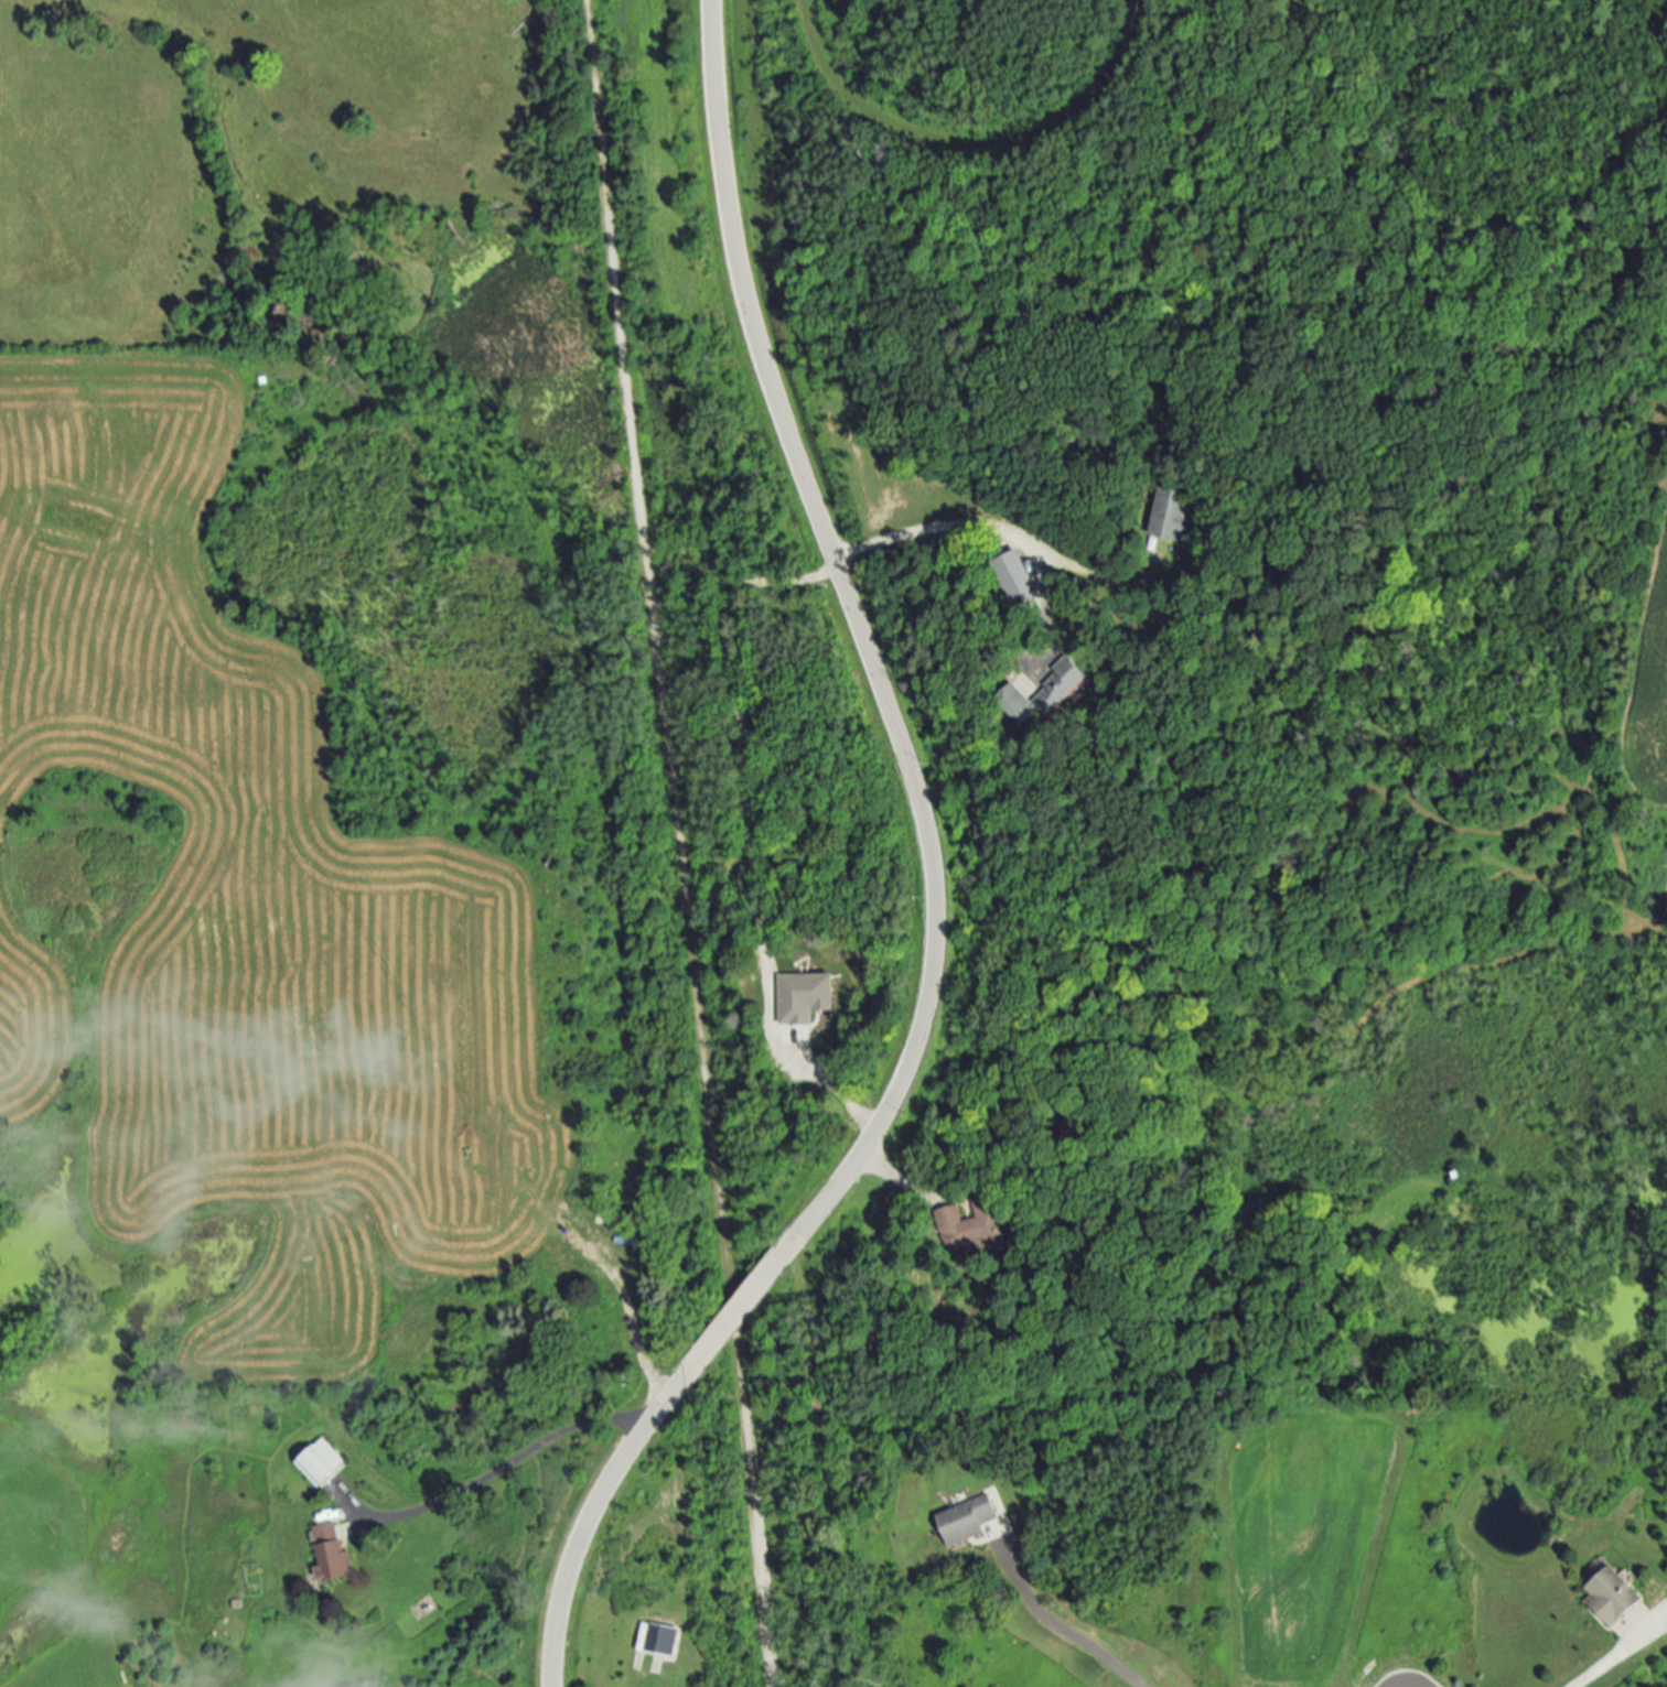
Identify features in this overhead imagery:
building: (1165, 515)
road: (978, 527)
building: (1019, 574)
road: (856, 624)
building: (1048, 692)
road: (675, 843)
building: (807, 997)
road: (904, 1177)
building: (977, 1226)
road: (738, 1313)
building: (883, 1334)
building: (320, 1464)
road: (512, 1464)
building: (967, 1522)
road: (579, 1535)
building: (331, 1555)
building: (1612, 1598)
road: (1063, 1629)
building: (663, 1639)
road: (1609, 1657)

